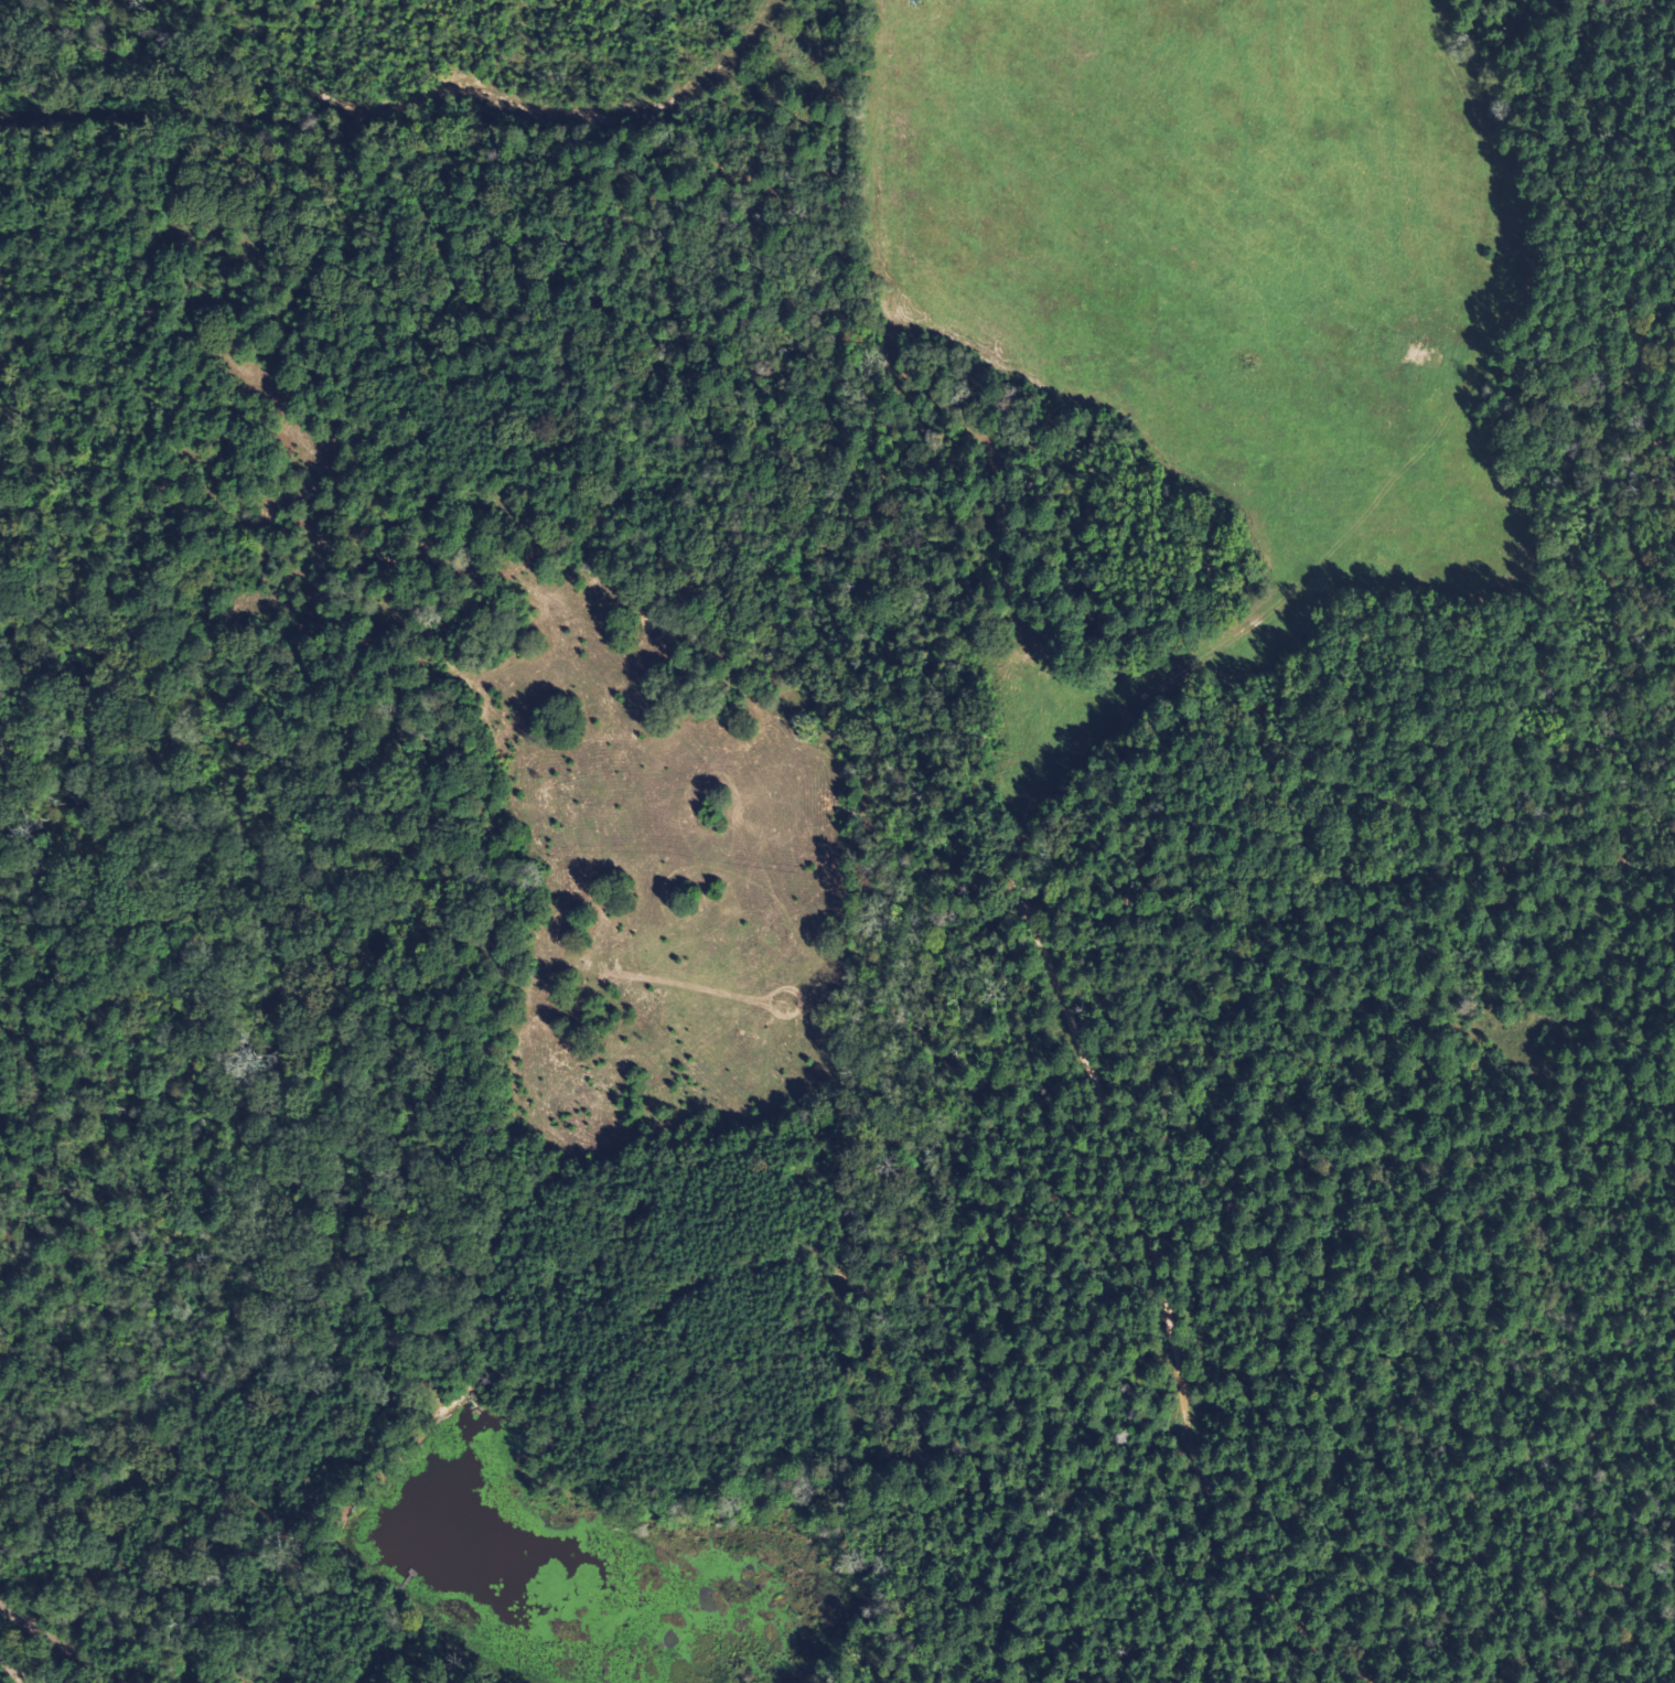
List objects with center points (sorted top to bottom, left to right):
road: (53, 1644)

